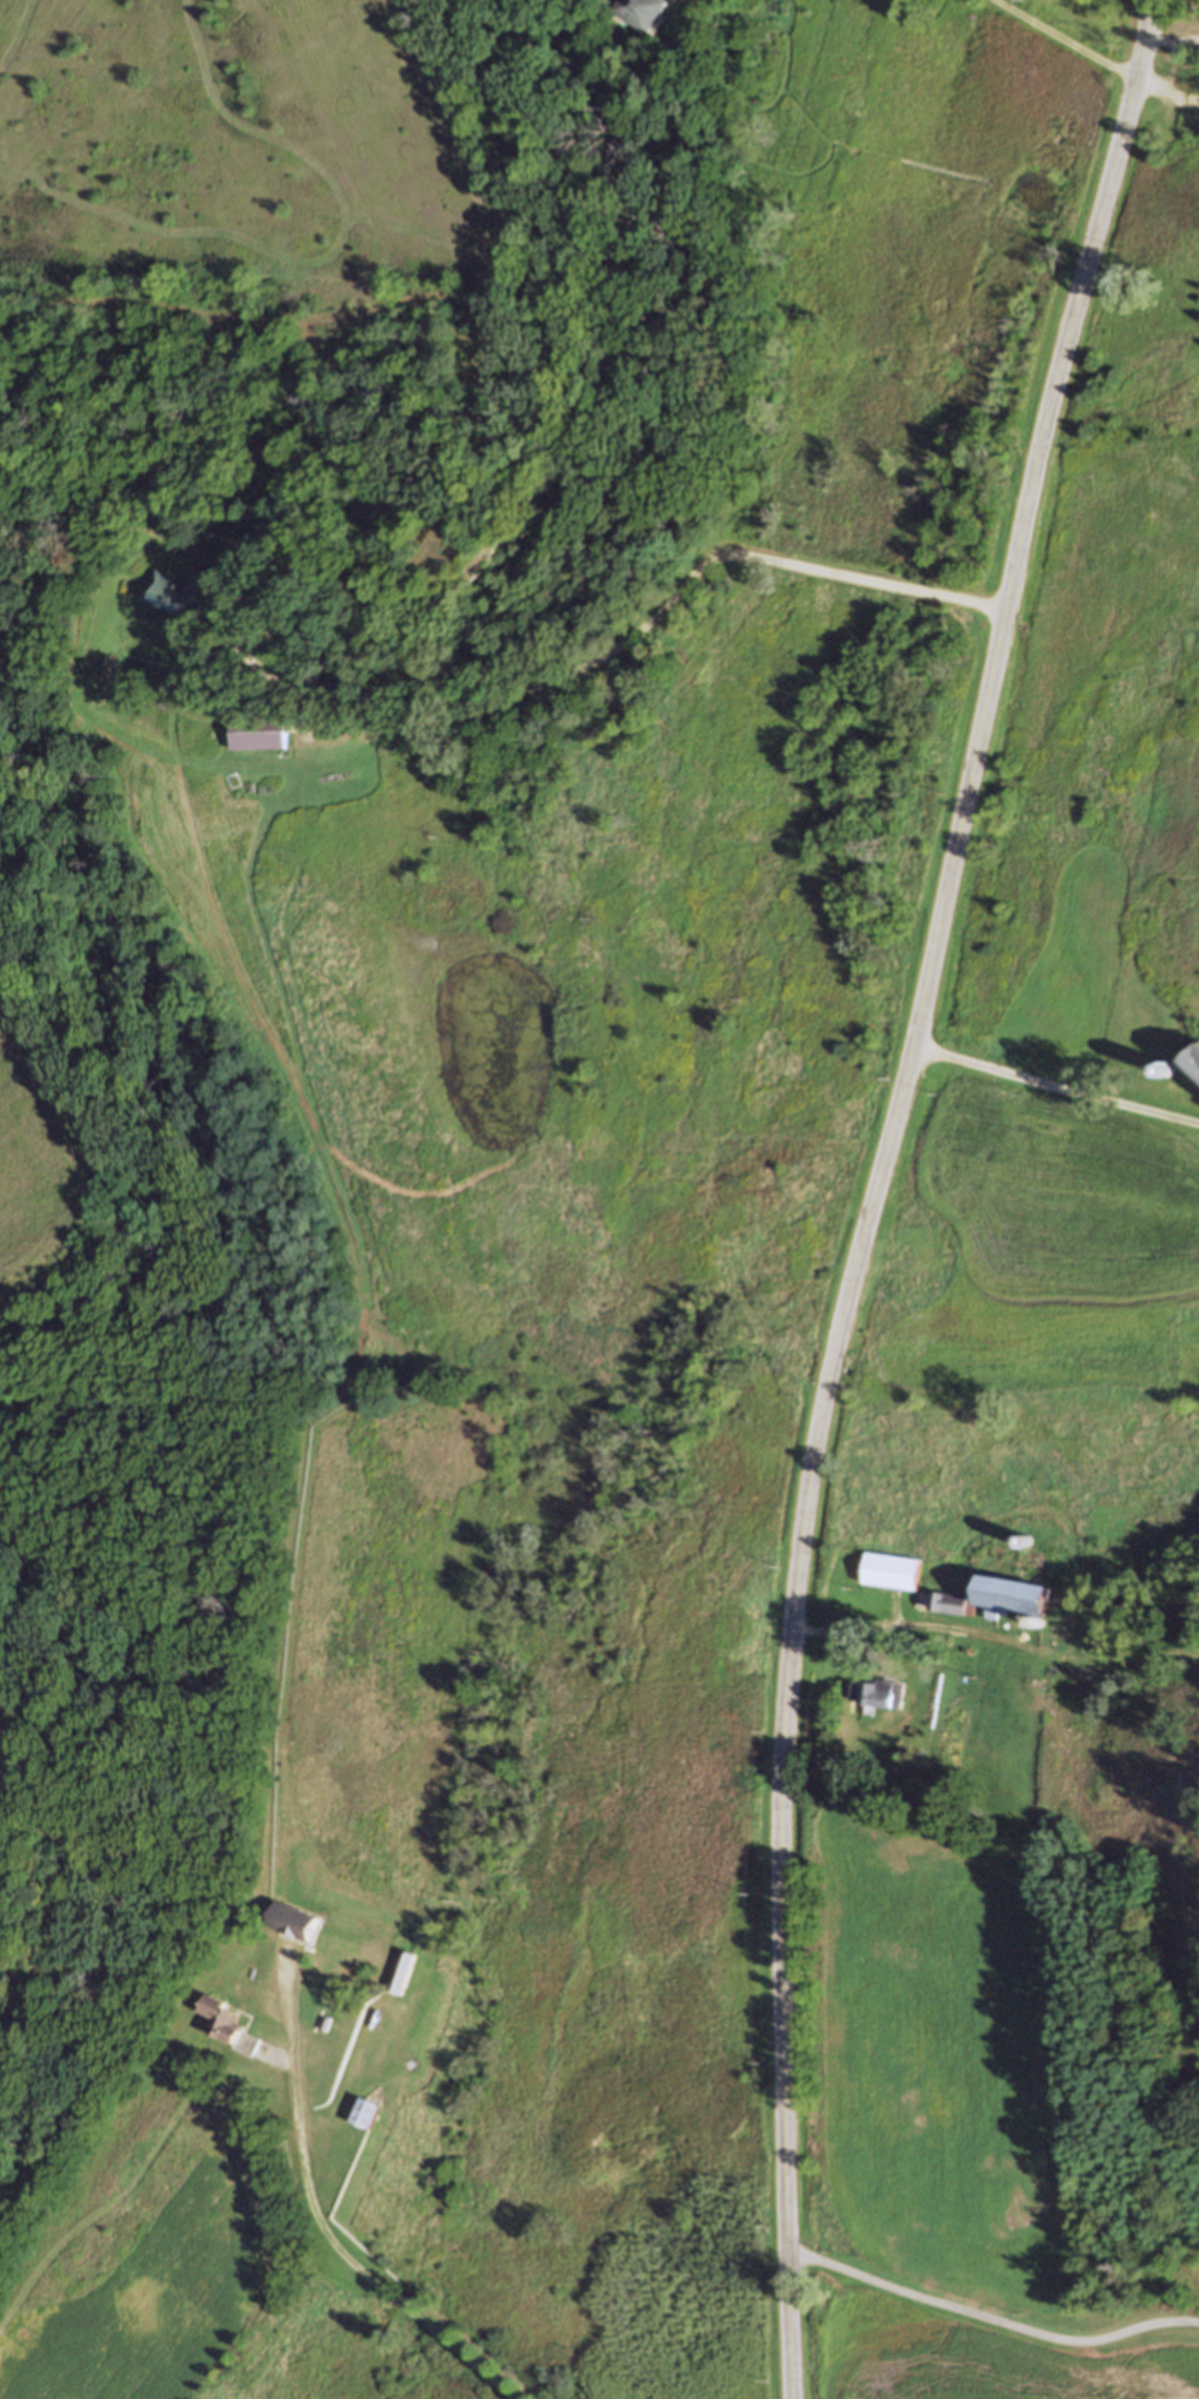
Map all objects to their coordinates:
building: (638, 10)
road: (1169, 41)
road: (1093, 56)
building: (172, 589)
road: (607, 652)
building: (256, 732)
building: (1192, 1063)
road: (1054, 1087)
building: (1198, 1150)
road: (872, 1188)
building: (1027, 1540)
building: (889, 1571)
building: (1009, 1597)
building: (946, 1605)
building: (1037, 1623)
road: (995, 1635)
building: (1105, 1635)
building: (873, 1695)
building: (925, 1731)
building: (288, 1920)
road: (118, 1940)
building: (399, 1971)
building: (217, 2016)
road: (264, 2051)
building: (358, 2113)
road: (315, 2212)
road: (989, 2319)

